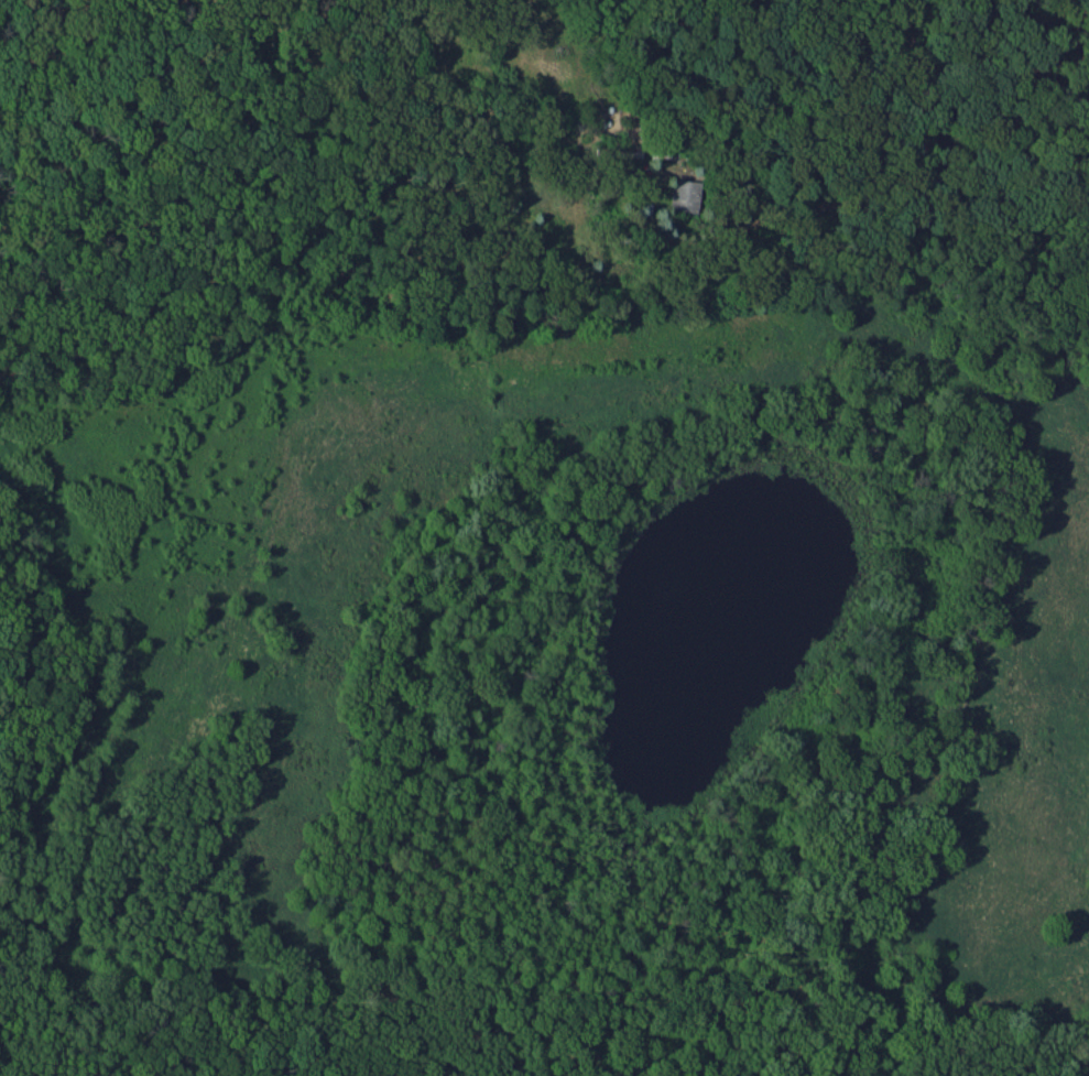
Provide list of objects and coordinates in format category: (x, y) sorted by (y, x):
road: (864, 170)
building: (685, 197)

